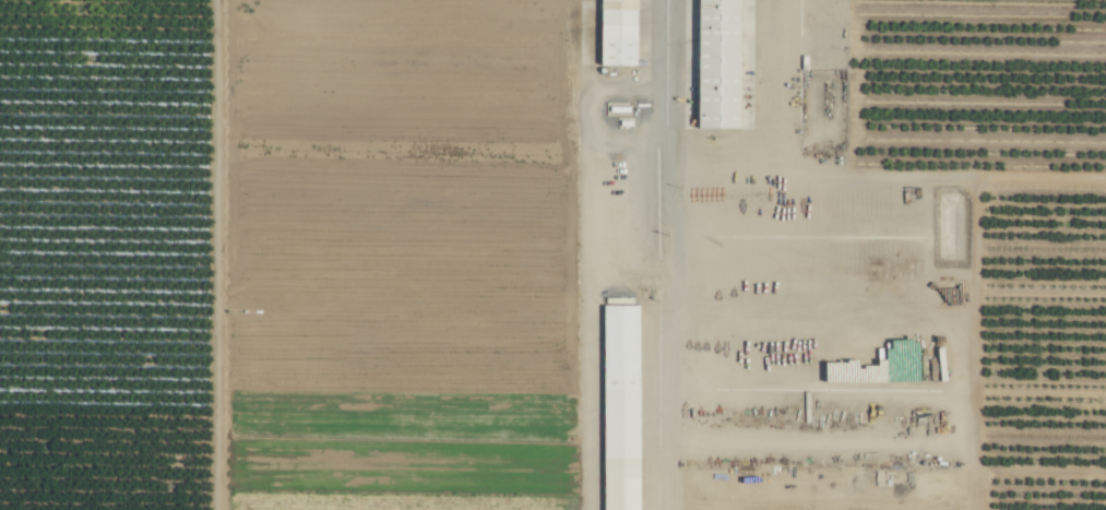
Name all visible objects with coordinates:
building: (616, 33)
building: (716, 63)
crop: (552, 254)
road: (665, 254)
building: (619, 407)

